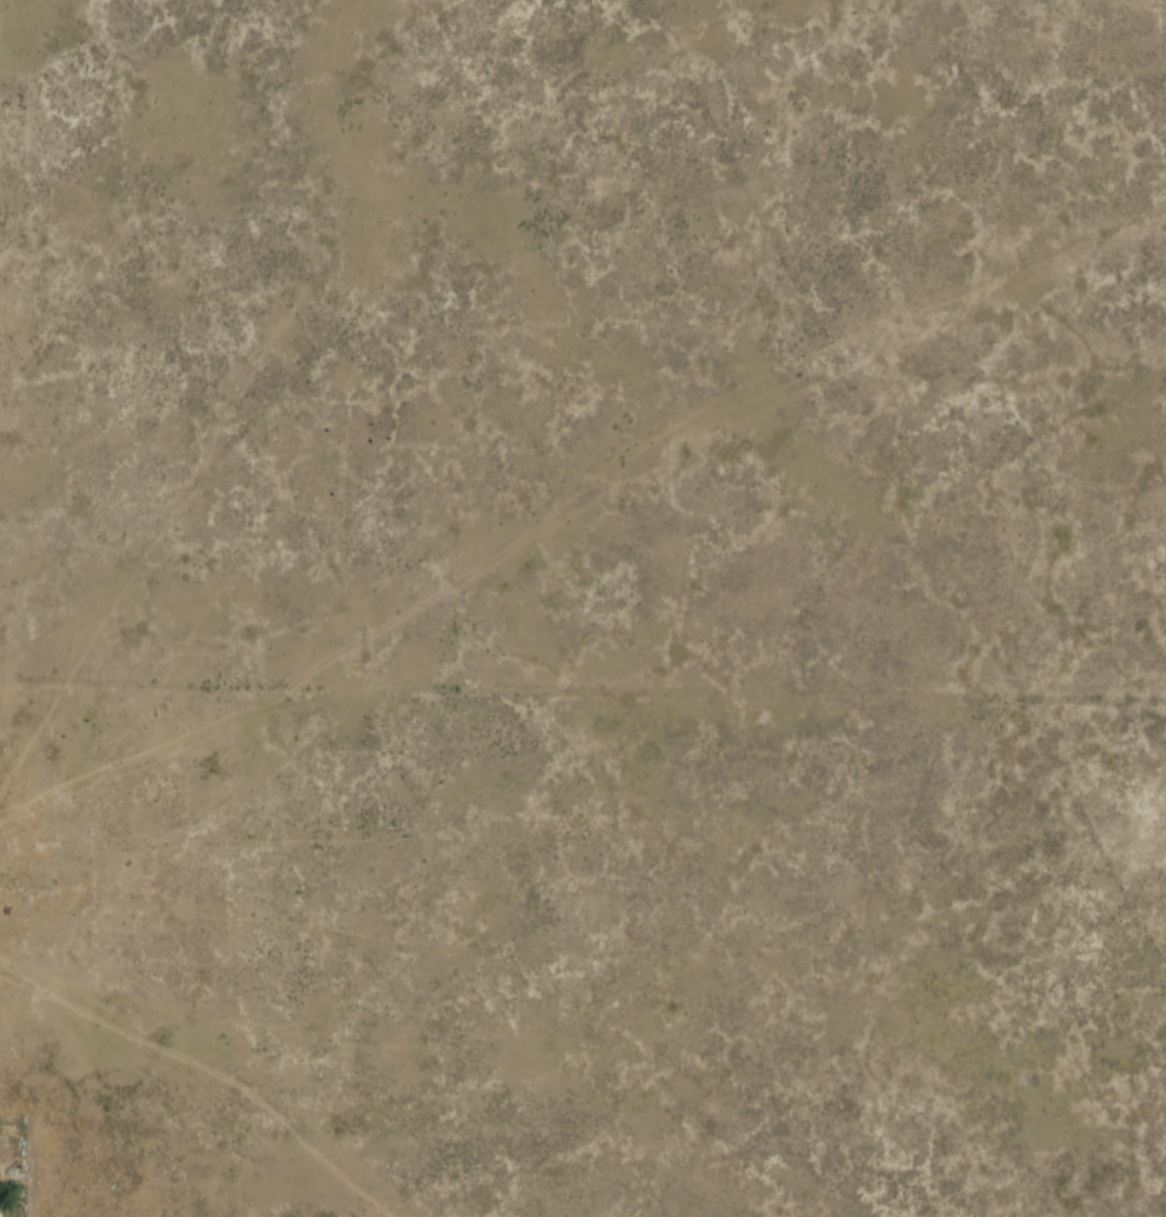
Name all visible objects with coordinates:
road: (4, 1194)

